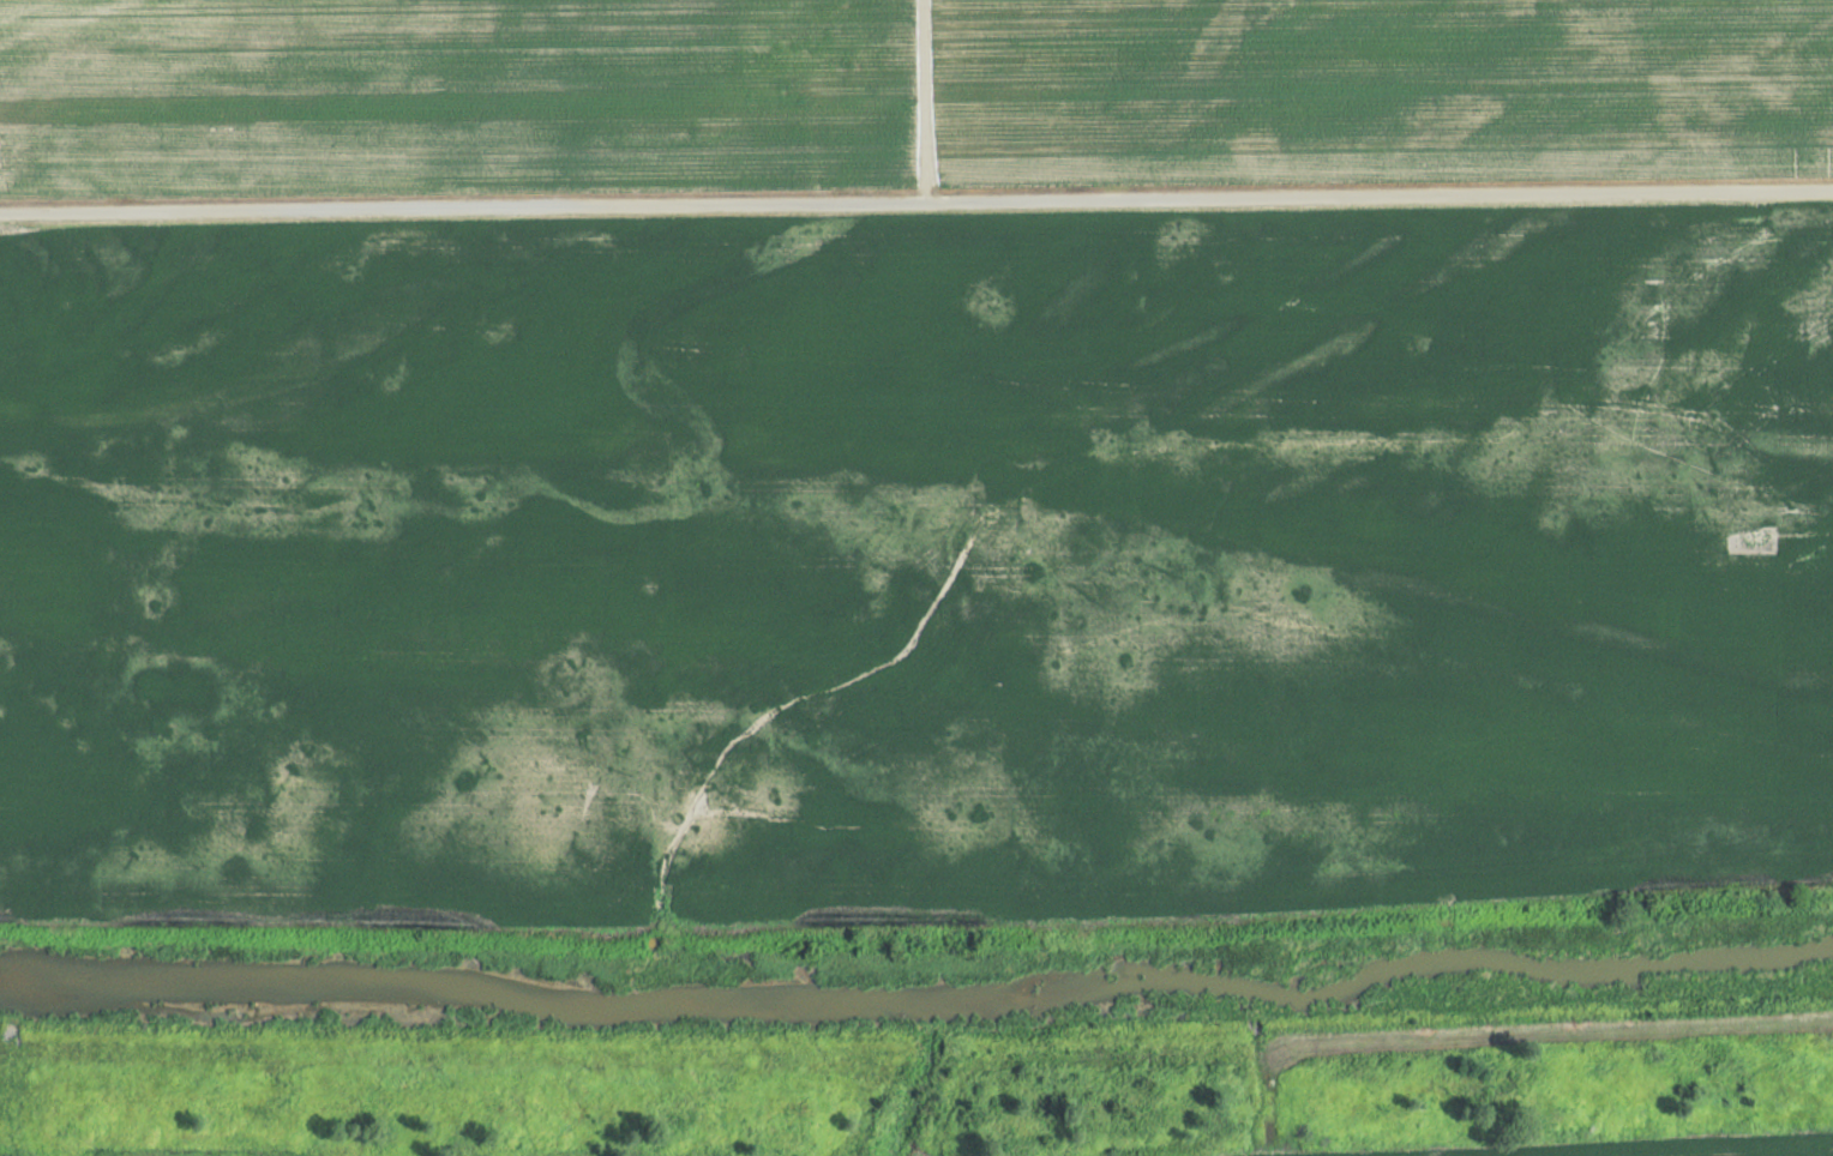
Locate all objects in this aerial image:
road: (915, 204)

